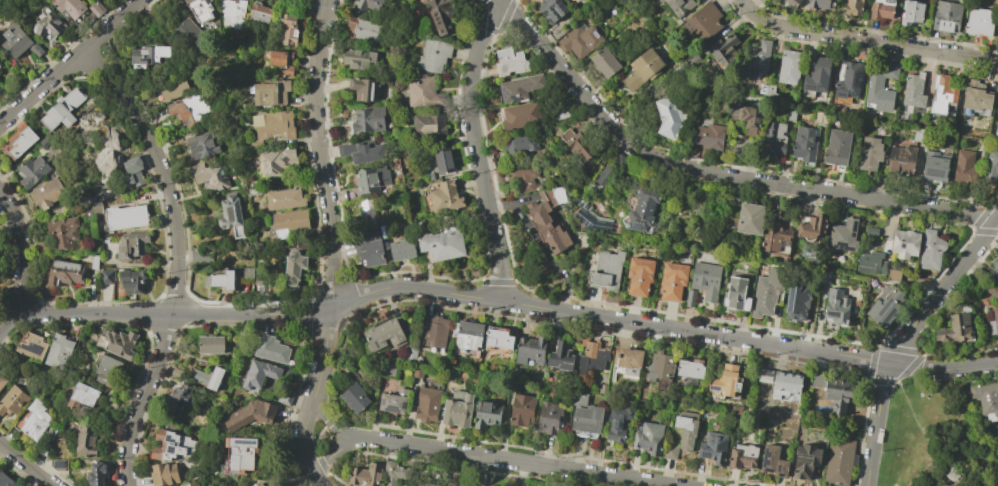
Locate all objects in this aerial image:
building: (582, 0)
building: (582, 0)
building: (776, 0)
road: (323, 1)
building: (791, 2)
building: (817, 3)
building: (367, 5)
building: (679, 6)
building: (70, 7)
building: (853, 7)
building: (96, 8)
building: (881, 9)
building: (199, 10)
building: (552, 10)
building: (232, 12)
building: (911, 12)
building: (260, 15)
building: (440, 15)
road: (123, 16)
building: (945, 17)
building: (703, 21)
building: (978, 22)
building: (47, 23)
building: (288, 29)
building: (361, 30)
building: (188, 35)
road: (97, 38)
building: (995, 39)
building: (18, 41)
building: (579, 41)
road: (865, 41)
road: (101, 42)
building: (723, 51)
building: (148, 56)
building: (432, 56)
building: (354, 57)
building: (692, 60)
building: (758, 60)
building: (509, 61)
building: (281, 62)
building: (604, 62)
building: (1, 64)
building: (789, 66)
building: (641, 69)
building: (817, 75)
building: (848, 80)
road: (46, 87)
building: (880, 87)
building: (173, 88)
building: (518, 88)
building: (1, 89)
building: (364, 89)
building: (913, 90)
building: (271, 93)
building: (423, 93)
road: (121, 94)
building: (942, 94)
building: (975, 96)
building: (62, 109)
building: (191, 110)
building: (520, 114)
building: (788, 114)
building: (561, 115)
building: (671, 115)
building: (747, 117)
building: (369, 119)
building: (428, 124)
building: (272, 126)
building: (996, 131)
building: (709, 136)
building: (776, 136)
building: (17, 141)
building: (519, 141)
building: (44, 142)
building: (577, 143)
building: (804, 144)
building: (202, 145)
building: (837, 146)
road: (476, 148)
building: (692, 150)
building: (361, 151)
building: (869, 153)
building: (106, 155)
building: (901, 159)
building: (442, 160)
building: (277, 161)
building: (620, 161)
building: (430, 163)
building: (991, 164)
building: (934, 166)
building: (964, 168)
building: (31, 171)
building: (133, 171)
road: (715, 174)
building: (430, 176)
building: (604, 176)
building: (211, 177)
building: (521, 177)
building: (365, 181)
building: (253, 191)
building: (47, 193)
building: (444, 196)
building: (284, 199)
road: (327, 200)
building: (367, 206)
building: (95, 207)
building: (641, 208)
building: (231, 215)
building: (125, 217)
building: (592, 219)
building: (746, 219)
building: (288, 222)
building: (546, 225)
building: (811, 227)
building: (870, 230)
building: (63, 231)
building: (843, 235)
building: (774, 239)
building: (303, 243)
building: (904, 243)
building: (442, 244)
building: (131, 245)
building: (369, 249)
building: (401, 249)
road: (22, 250)
building: (930, 250)
building: (201, 257)
building: (93, 260)
building: (871, 263)
building: (293, 268)
building: (605, 270)
building: (994, 270)
building: (64, 273)
building: (247, 273)
building: (892, 274)
building: (638, 275)
building: (106, 276)
building: (220, 279)
building: (705, 279)
building: (131, 280)
building: (671, 281)
building: (990, 288)
road: (942, 289)
road: (441, 292)
building: (767, 292)
building: (735, 294)
building: (689, 297)
building: (796, 302)
building: (885, 305)
building: (835, 307)
road: (172, 314)
building: (993, 323)
building: (955, 327)
building: (434, 331)
building: (467, 334)
building: (384, 335)
building: (498, 341)
building: (117, 343)
building: (212, 345)
building: (30, 346)
building: (271, 349)
building: (530, 349)
building: (58, 351)
building: (411, 353)
building: (591, 355)
building: (559, 356)
building: (625, 362)
building: (388, 367)
building: (658, 367)
building: (690, 368)
road: (920, 368)
road: (975, 369)
building: (107, 371)
building: (417, 371)
building: (175, 372)
building: (287, 372)
building: (259, 374)
building: (449, 375)
building: (352, 376)
building: (206, 378)
building: (2, 381)
building: (725, 381)
building: (781, 383)
building: (602, 388)
building: (833, 391)
building: (285, 394)
building: (82, 396)
building: (178, 397)
building: (354, 397)
building: (986, 398)
building: (12, 400)
building: (393, 401)
building: (426, 404)
building: (457, 409)
building: (735, 409)
building: (521, 410)
road: (967, 410)
road: (914, 413)
building: (251, 414)
building: (486, 414)
building: (585, 416)
building: (549, 417)
building: (33, 420)
building: (617, 422)
road: (875, 423)
road: (333, 427)
building: (685, 428)
building: (648, 437)
park: (935, 437)
road: (305, 439)
building: (85, 440)
road: (315, 444)
building: (172, 446)
building: (713, 447)
building: (669, 452)
road: (336, 453)
building: (240, 454)
building: (742, 456)
building: (805, 460)
building: (773, 461)
building: (838, 461)
road: (517, 462)
road: (27, 463)
building: (57, 464)
building: (100, 473)
building: (392, 473)
building: (163, 474)
building: (365, 475)
road: (923, 475)
building: (6, 480)
road: (320, 481)
building: (258, 484)
building: (423, 484)
building: (185, 485)

